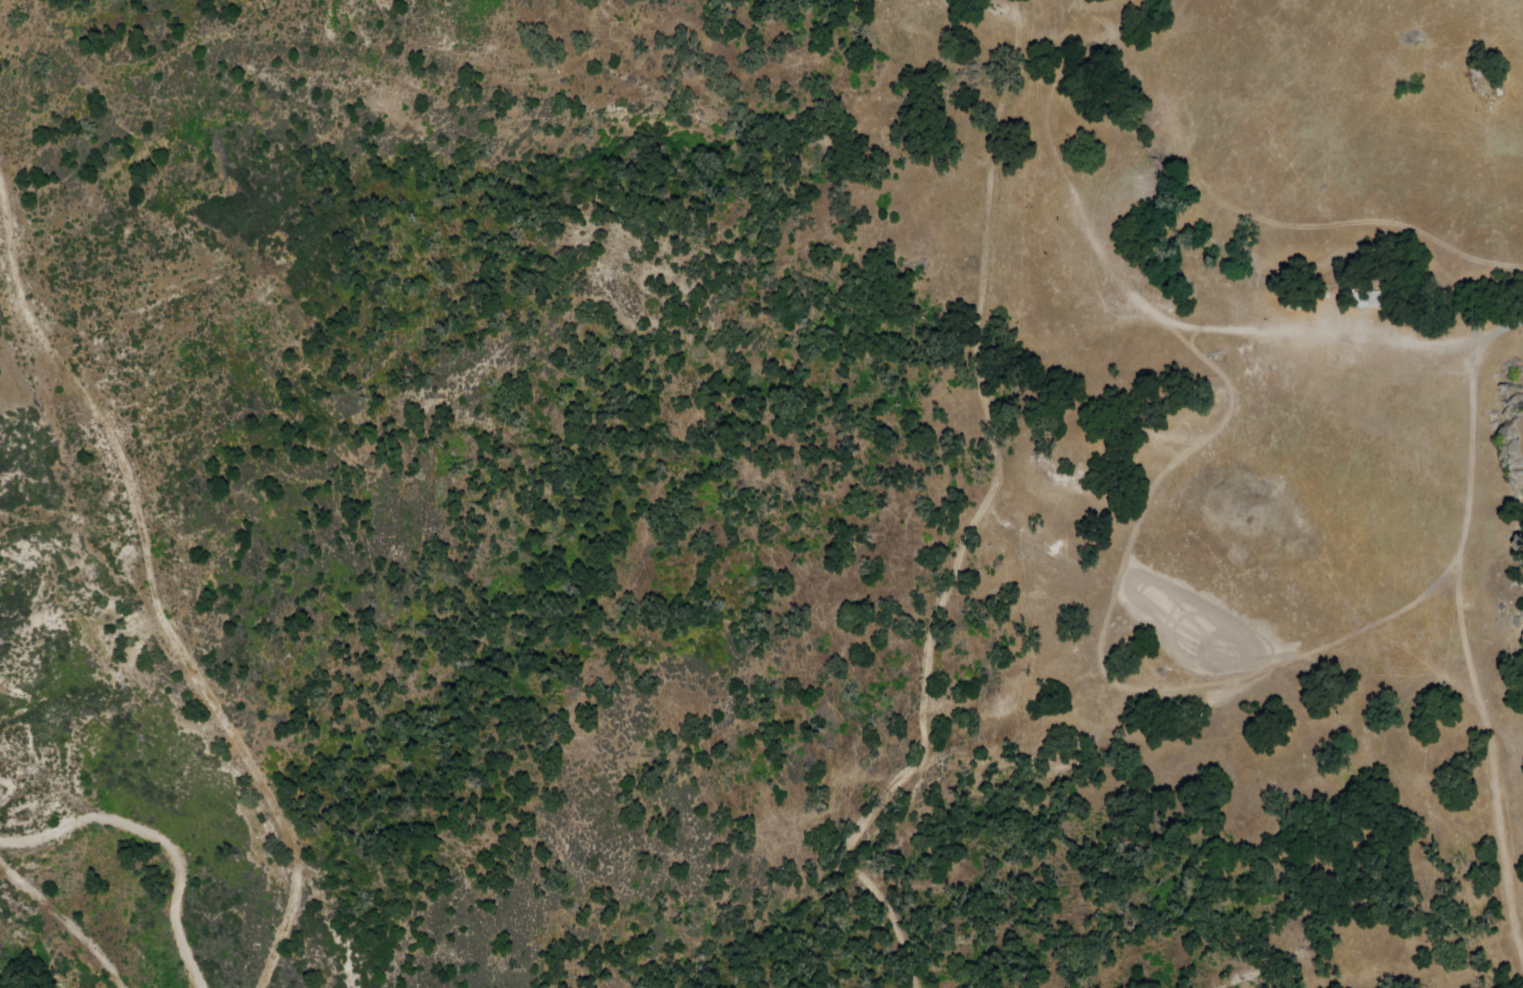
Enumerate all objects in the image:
building: (1364, 300)
road: (1178, 326)
road: (992, 402)
road: (153, 839)

